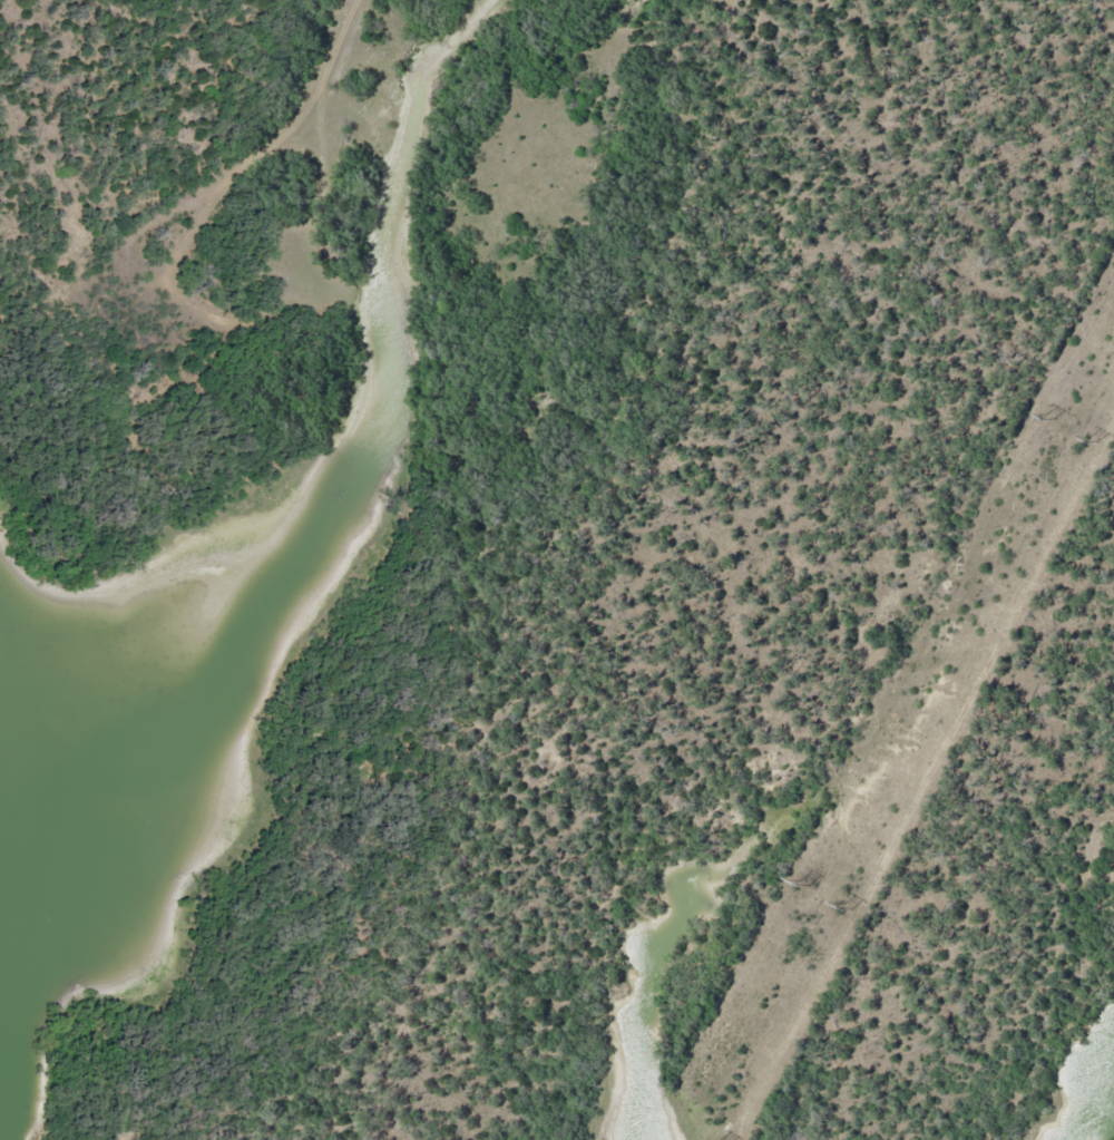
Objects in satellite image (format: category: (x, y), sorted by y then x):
road: (295, 111)
power tower: (1052, 416)
power tower: (1100, 445)
power tower: (809, 883)
power tower: (849, 907)

